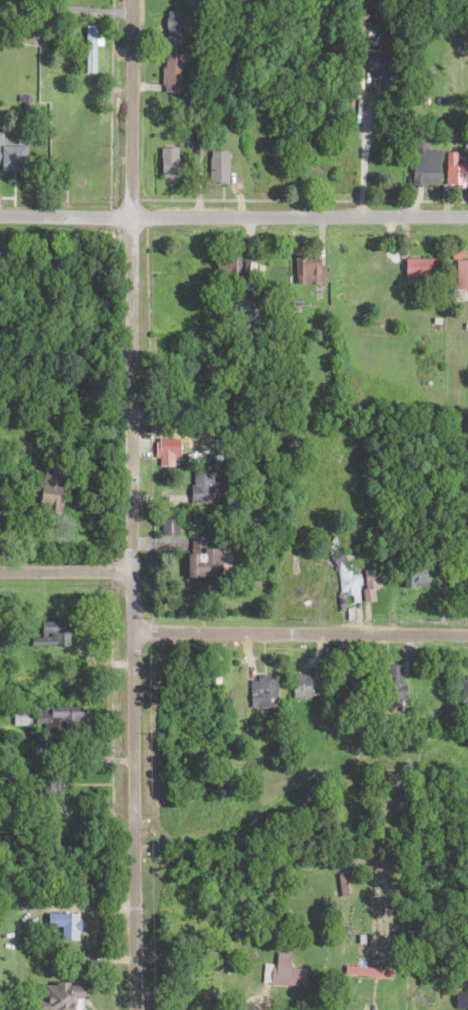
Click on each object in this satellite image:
building: (183, 0)
building: (315, 1)
building: (177, 29)
building: (92, 51)
building: (384, 66)
building: (178, 75)
building: (15, 158)
building: (82, 160)
building: (175, 165)
building: (222, 170)
building: (429, 170)
building: (458, 174)
building: (330, 175)
road: (233, 220)
building: (230, 269)
building: (424, 269)
building: (309, 275)
building: (464, 278)
road: (131, 287)
building: (171, 455)
building: (59, 491)
building: (210, 493)
building: (208, 563)
road: (65, 575)
building: (419, 581)
building: (373, 582)
building: (348, 583)
building: (59, 635)
road: (300, 636)
building: (303, 688)
building: (267, 695)
building: (465, 695)
road: (132, 792)
building: (343, 888)
building: (66, 926)
building: (287, 976)
building: (65, 999)
building: (432, 1002)
building: (463, 1002)

